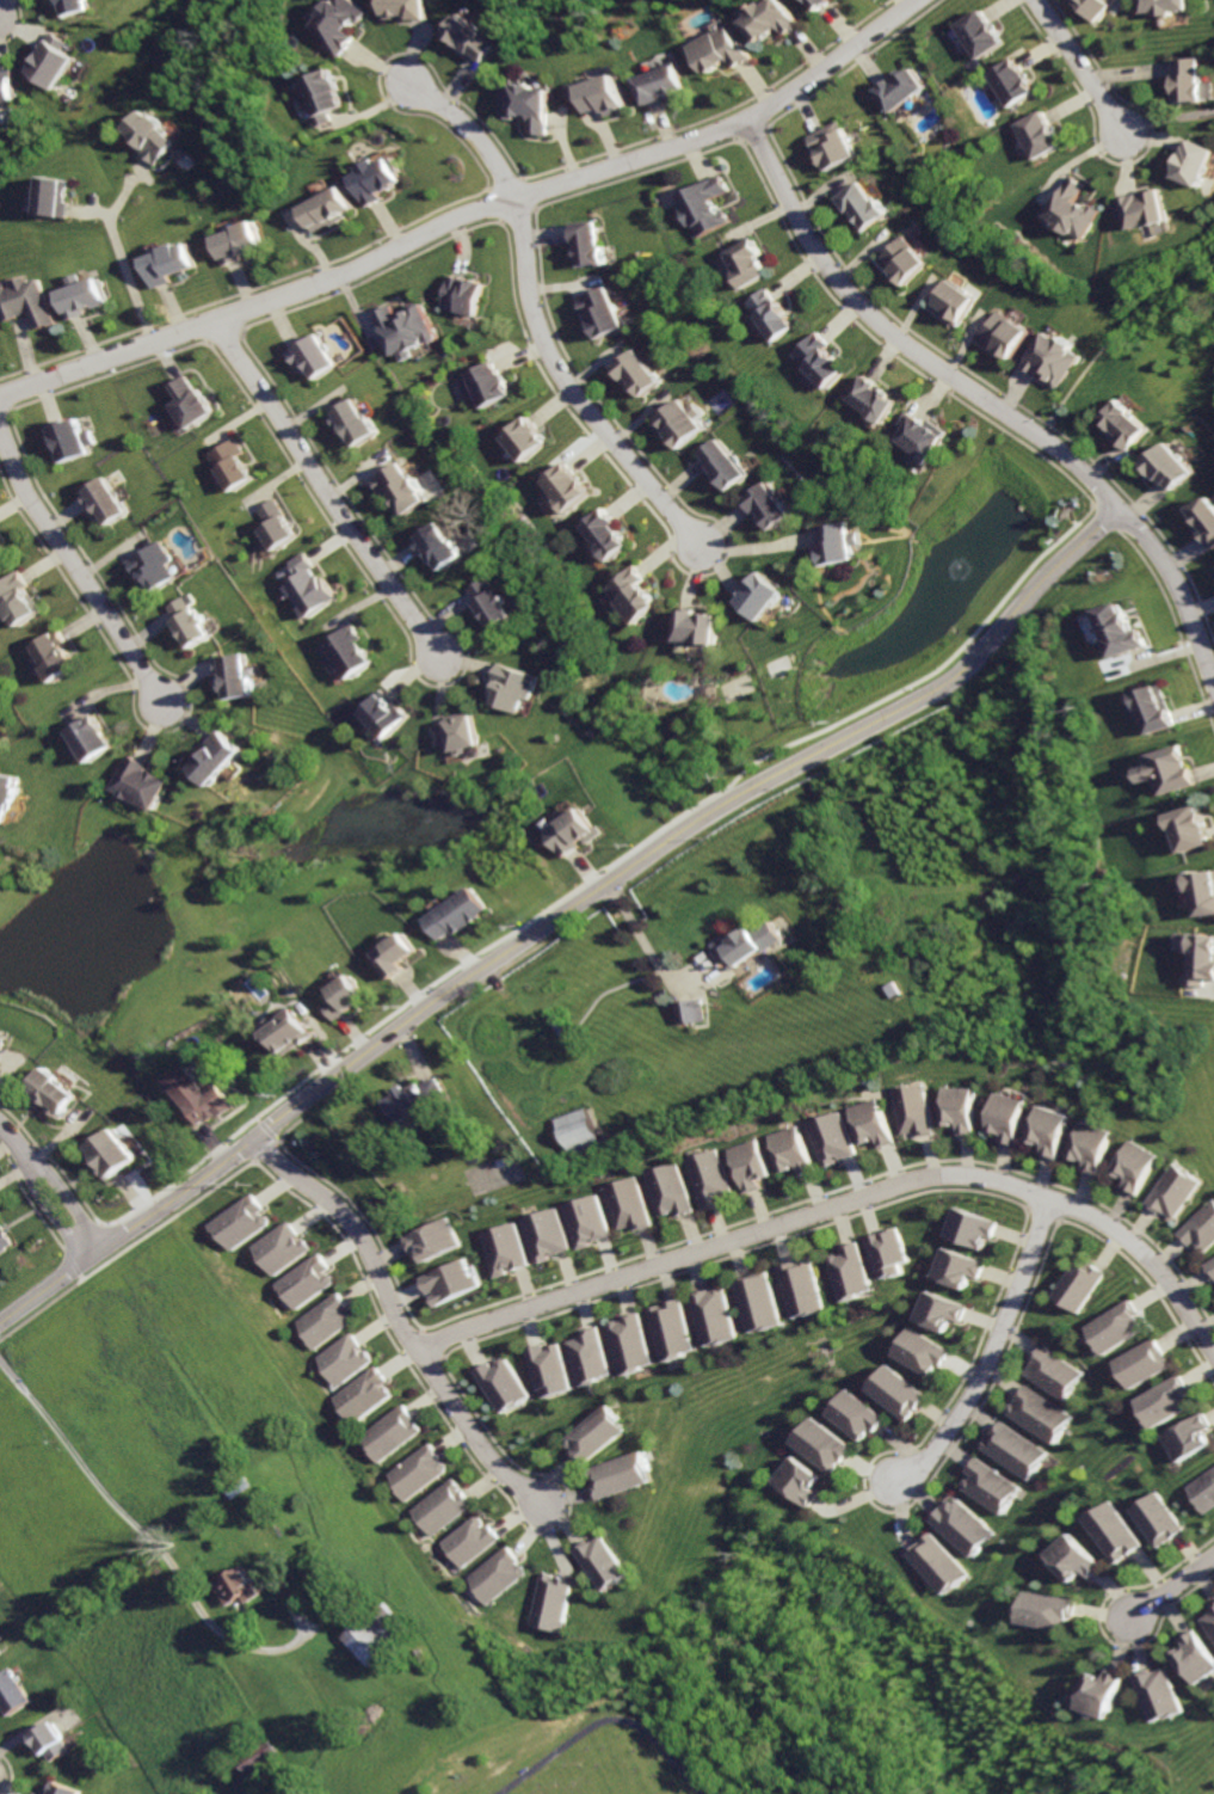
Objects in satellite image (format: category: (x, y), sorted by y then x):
building: (821, 4)
building: (85, 6)
building: (1092, 6)
building: (1161, 6)
building: (413, 8)
road: (1, 16)
building: (771, 18)
building: (346, 24)
building: (978, 33)
building: (475, 37)
building: (720, 50)
building: (60, 61)
road: (1076, 68)
building: (1188, 80)
building: (1009, 81)
building: (660, 85)
building: (11, 87)
building: (898, 87)
building: (325, 94)
building: (603, 94)
building: (0, 103)
building: (529, 104)
road: (1164, 118)
road: (751, 131)
building: (1035, 134)
building: (154, 135)
building: (830, 143)
building: (1193, 162)
building: (380, 178)
road: (127, 188)
building: (56, 197)
building: (862, 204)
building: (701, 205)
building: (328, 208)
building: (1071, 208)
building: (1144, 208)
road: (92, 211)
road: (464, 214)
building: (242, 241)
building: (583, 241)
building: (905, 259)
building: (741, 262)
building: (171, 263)
road: (131, 283)
building: (461, 294)
building: (85, 296)
building: (32, 302)
building: (956, 302)
building: (599, 312)
building: (769, 313)
road: (531, 319)
road: (1122, 326)
building: (402, 327)
building: (1009, 333)
road: (888, 352)
building: (312, 356)
building: (1058, 357)
building: (818, 360)
building: (635, 373)
road: (992, 383)
building: (482, 385)
road: (986, 397)
building: (870, 398)
building: (189, 404)
building: (351, 422)
building: (682, 423)
building: (1138, 424)
building: (920, 436)
building: (523, 437)
building: (69, 438)
building: (227, 462)
building: (1178, 465)
building: (722, 466)
building: (563, 486)
building: (399, 487)
road: (322, 489)
building: (100, 499)
building: (765, 504)
road: (1114, 517)
road: (1079, 518)
building: (1208, 520)
building: (272, 524)
building: (603, 534)
building: (837, 542)
building: (438, 546)
road: (759, 547)
building: (0, 555)
building: (0, 557)
building: (152, 565)
fountain: (956, 567)
road: (73, 572)
road: (1043, 586)
building: (308, 588)
building: (631, 595)
building: (762, 595)
building: (17, 598)
building: (491, 603)
building: (192, 621)
building: (695, 626)
road: (1177, 629)
building: (1122, 632)
building: (345, 652)
building: (55, 656)
building: (236, 674)
building: (514, 686)
building: (1154, 708)
building: (383, 713)
building: (458, 732)
building: (92, 737)
building: (220, 758)
building: (1165, 770)
building: (141, 782)
building: (10, 794)
building: (1188, 825)
building: (578, 831)
road: (610, 867)
road: (587, 870)
building: (1203, 889)
building: (464, 913)
building: (752, 944)
road: (466, 952)
building: (402, 954)
road: (658, 956)
building: (1202, 960)
road: (468, 978)
road: (418, 990)
road: (679, 991)
building: (350, 996)
building: (689, 1010)
building: (292, 1031)
road: (356, 1032)
building: (4, 1046)
road: (326, 1055)
road: (417, 1055)
building: (61, 1092)
building: (202, 1094)
building: (417, 1100)
building: (959, 1108)
building: (912, 1110)
building: (1007, 1116)
road: (260, 1119)
building: (868, 1122)
road: (290, 1128)
building: (1049, 1129)
road: (269, 1130)
building: (578, 1132)
building: (826, 1137)
road: (278, 1139)
road: (18, 1141)
road: (214, 1142)
building: (1091, 1145)
road: (265, 1148)
building: (787, 1150)
building: (117, 1155)
road: (253, 1160)
building: (744, 1165)
building: (1134, 1165)
park: (494, 1174)
building: (703, 1176)
road: (843, 1184)
building: (663, 1188)
building: (1171, 1191)
road: (68, 1192)
road: (842, 1200)
building: (622, 1203)
road: (51, 1205)
road: (1037, 1212)
building: (580, 1219)
building: (239, 1221)
road: (363, 1223)
building: (966, 1227)
building: (1200, 1227)
building: (541, 1234)
road: (85, 1235)
building: (5, 1237)
building: (429, 1239)
road: (91, 1243)
building: (278, 1247)
road: (124, 1248)
building: (500, 1248)
road: (732, 1252)
building: (880, 1252)
road: (73, 1260)
building: (953, 1266)
building: (1208, 1267)
building: (843, 1271)
road: (81, 1276)
building: (302, 1279)
building: (448, 1280)
building: (1077, 1283)
road: (1150, 1285)
building: (797, 1286)
building: (757, 1301)
building: (937, 1309)
building: (714, 1314)
building: (322, 1320)
road: (400, 1320)
building: (1114, 1326)
building: (673, 1328)
road: (421, 1329)
building: (633, 1343)
road: (431, 1345)
building: (919, 1351)
road: (990, 1351)
building: (592, 1356)
road: (444, 1357)
building: (345, 1358)
building: (1141, 1363)
building: (553, 1368)
building: (1053, 1370)
building: (506, 1384)
building: (892, 1390)
building: (364, 1393)
building: (1160, 1400)
building: (1040, 1412)
building: (849, 1413)
building: (393, 1433)
building: (602, 1433)
building: (1184, 1436)
building: (814, 1443)
building: (1016, 1449)
road: (475, 1455)
building: (419, 1470)
building: (629, 1474)
building: (793, 1480)
building: (990, 1485)
building: (1202, 1489)
road: (873, 1504)
building: (446, 1506)
building: (1154, 1519)
building: (962, 1525)
building: (1110, 1531)
building: (475, 1540)
road: (152, 1544)
building: (1071, 1558)
building: (611, 1562)
building: (938, 1562)
building: (503, 1575)
building: (235, 1586)
road: (1169, 1587)
building: (557, 1602)
building: (1044, 1609)
building: (1209, 1617)
road: (1097, 1624)
building: (378, 1634)
building: (1193, 1657)
building: (10, 1692)
building: (1097, 1692)
building: (1154, 1692)
road: (603, 1721)
building: (51, 1743)
building: (252, 1759)
building: (62, 1789)
road: (1213, 1793)

